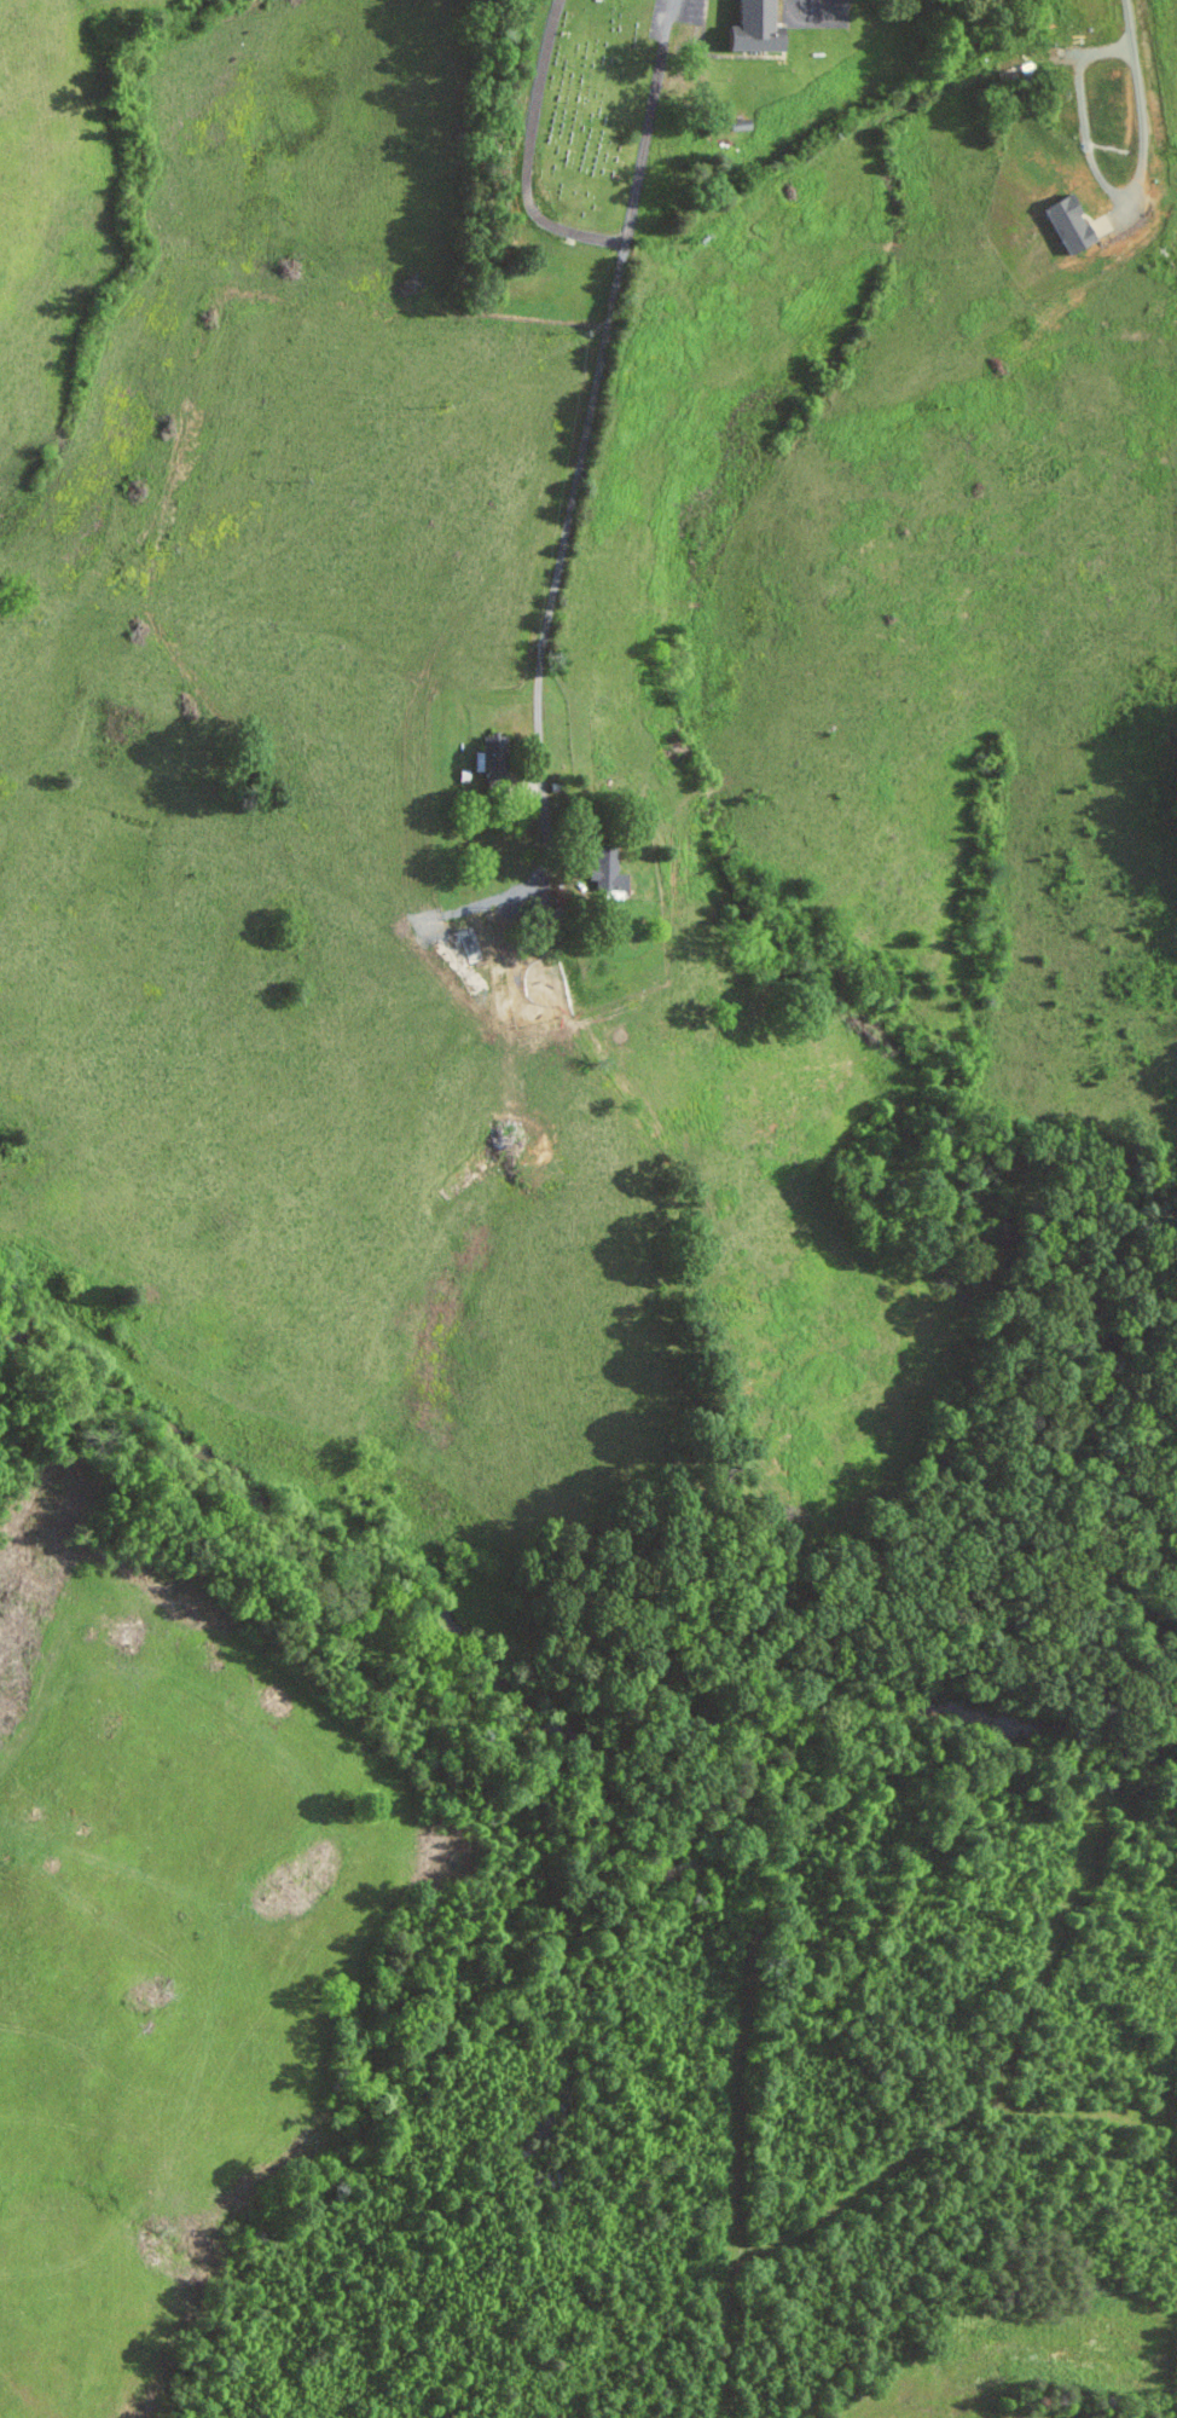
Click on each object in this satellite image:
road: (824, 6)
road: (1129, 22)
road: (1102, 181)
building: (1063, 224)
road: (590, 413)
building: (486, 756)
building: (602, 869)

